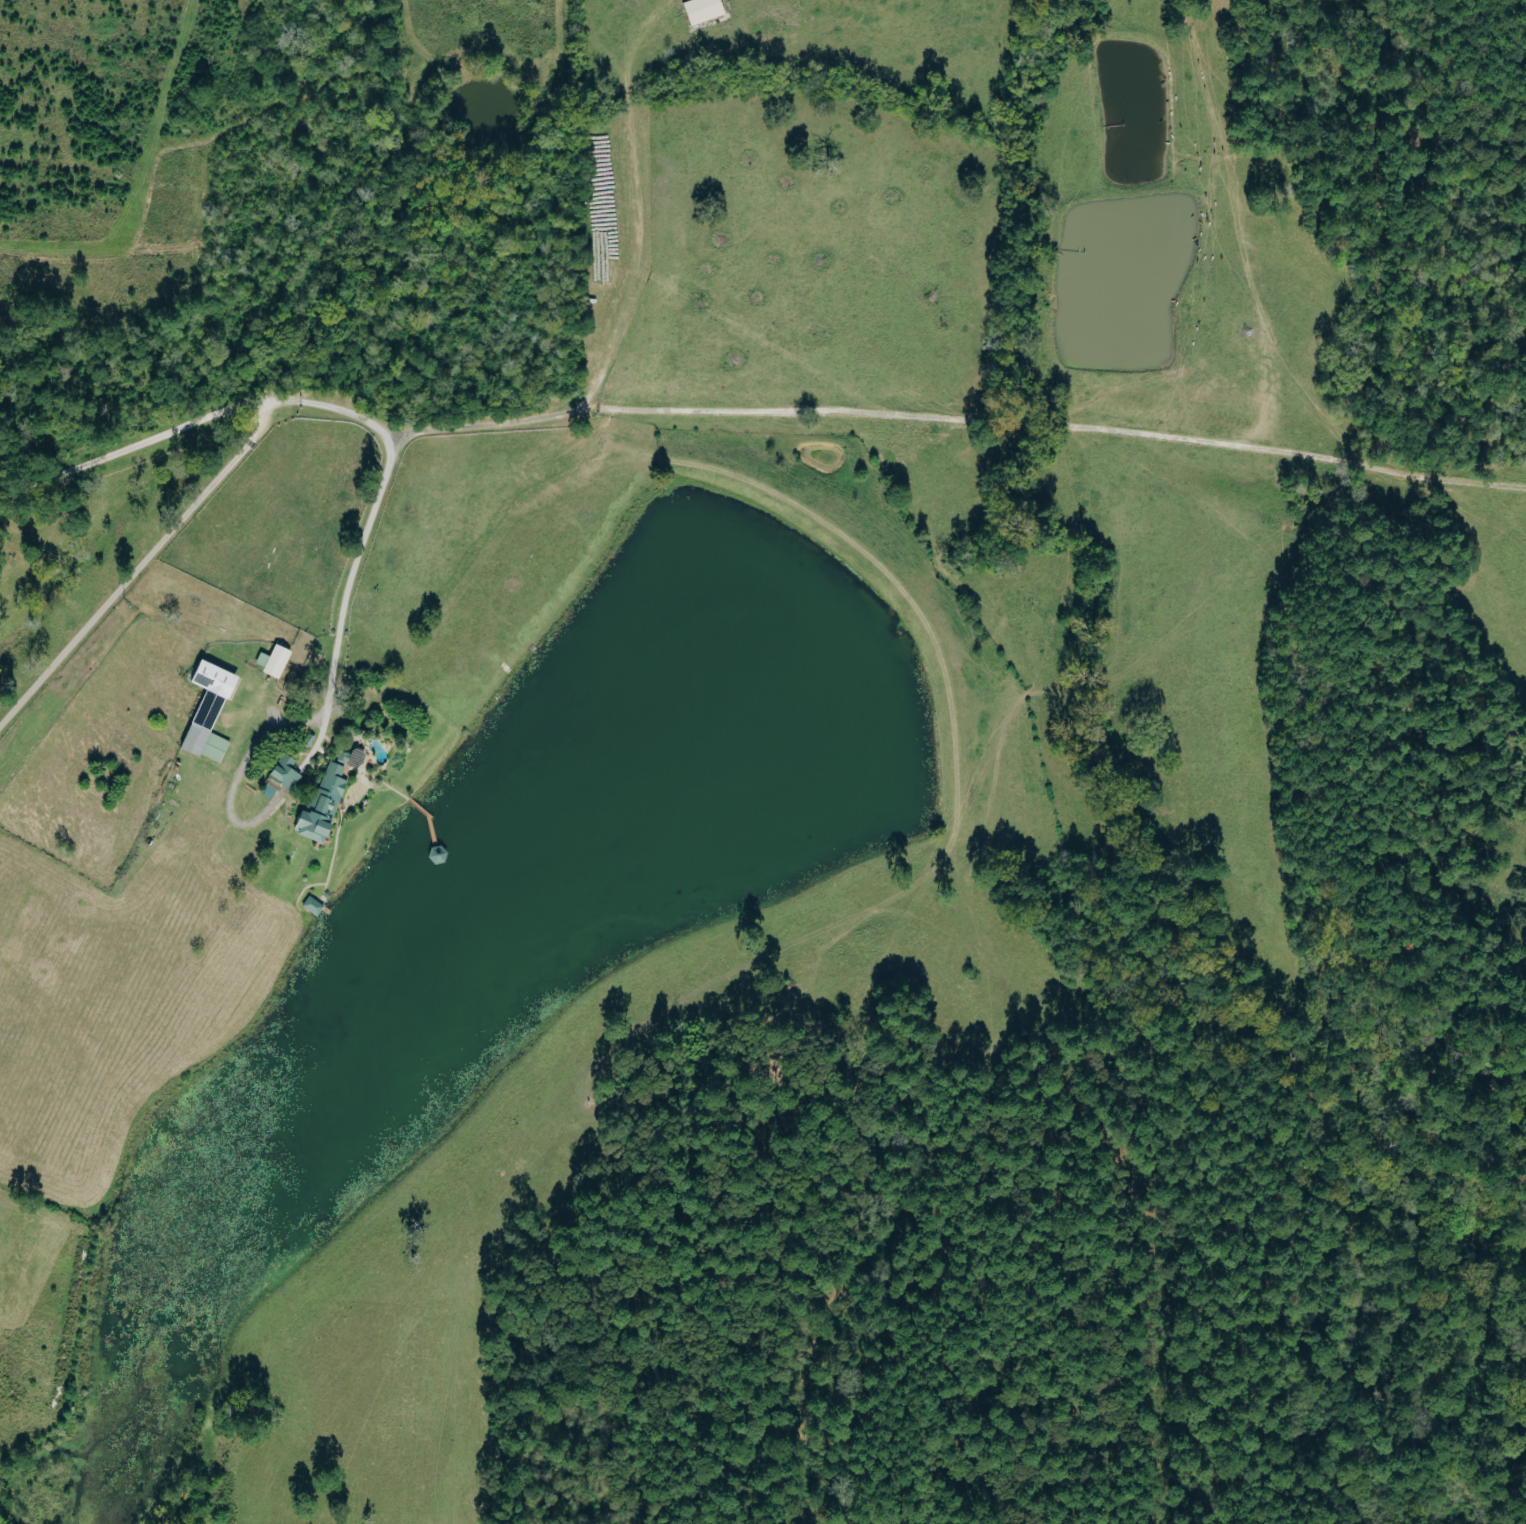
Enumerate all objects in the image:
building: (697, 10)
road: (330, 406)
road: (958, 419)
road: (133, 445)
road: (142, 567)
road: (353, 572)
building: (278, 662)
building: (214, 712)
building: (285, 777)
building: (327, 807)
building: (316, 907)

